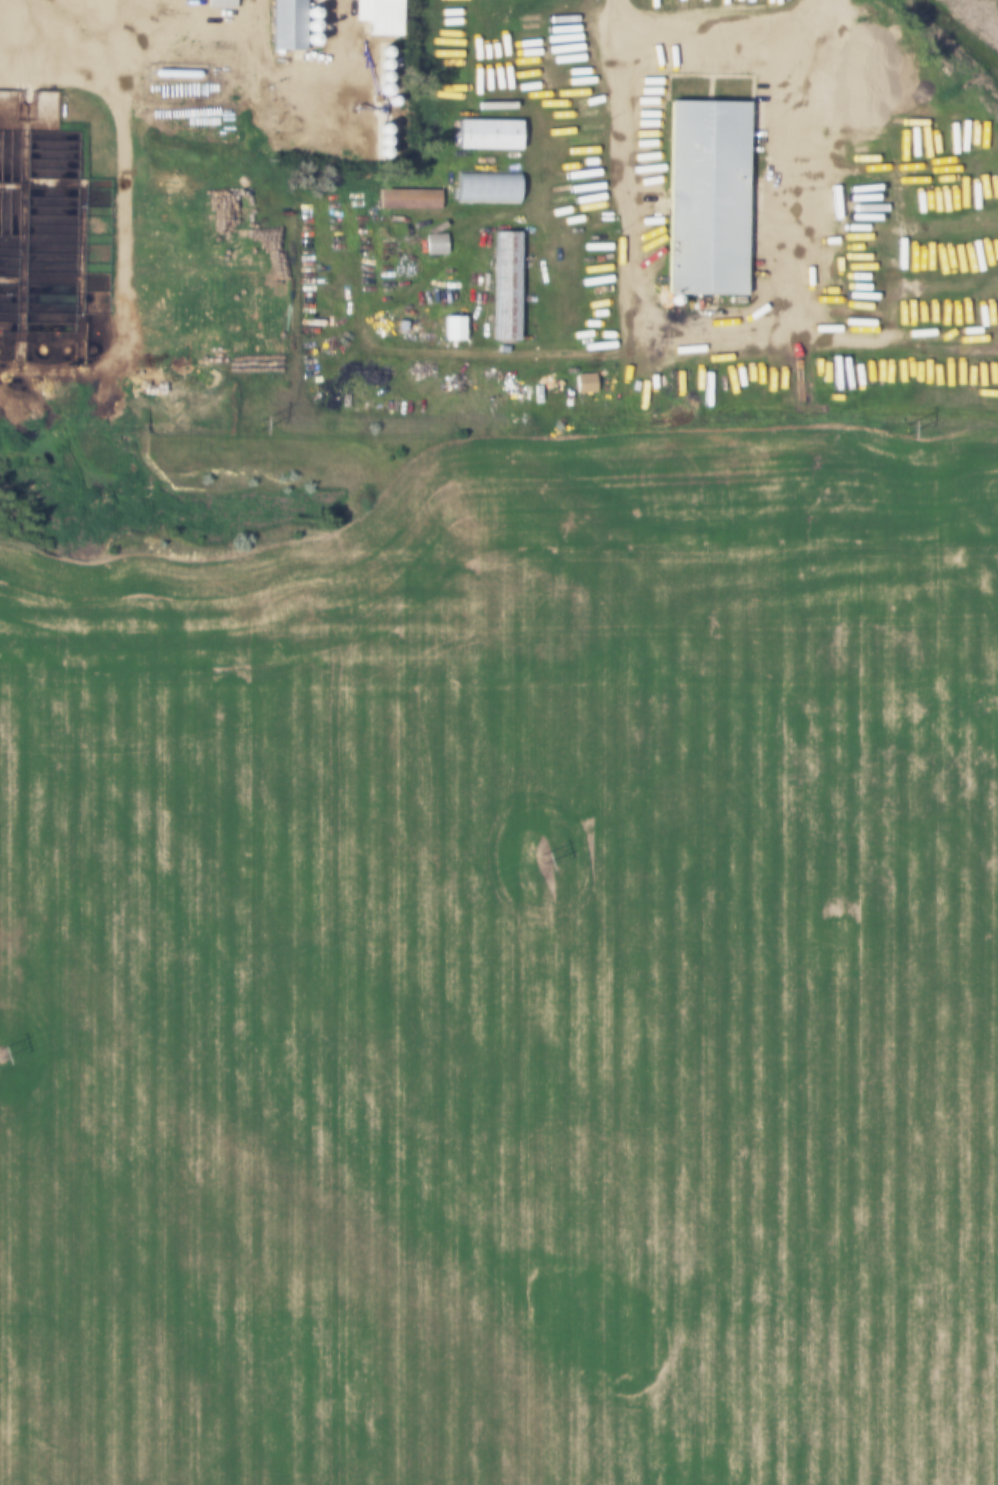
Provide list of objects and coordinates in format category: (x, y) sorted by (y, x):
building: (224, 4)
building: (383, 14)
building: (286, 22)
building: (488, 130)
building: (486, 183)
building: (704, 190)
building: (413, 201)
road: (132, 232)
building: (439, 246)
building: (504, 282)
building: (452, 322)
road: (724, 332)
building: (589, 385)

